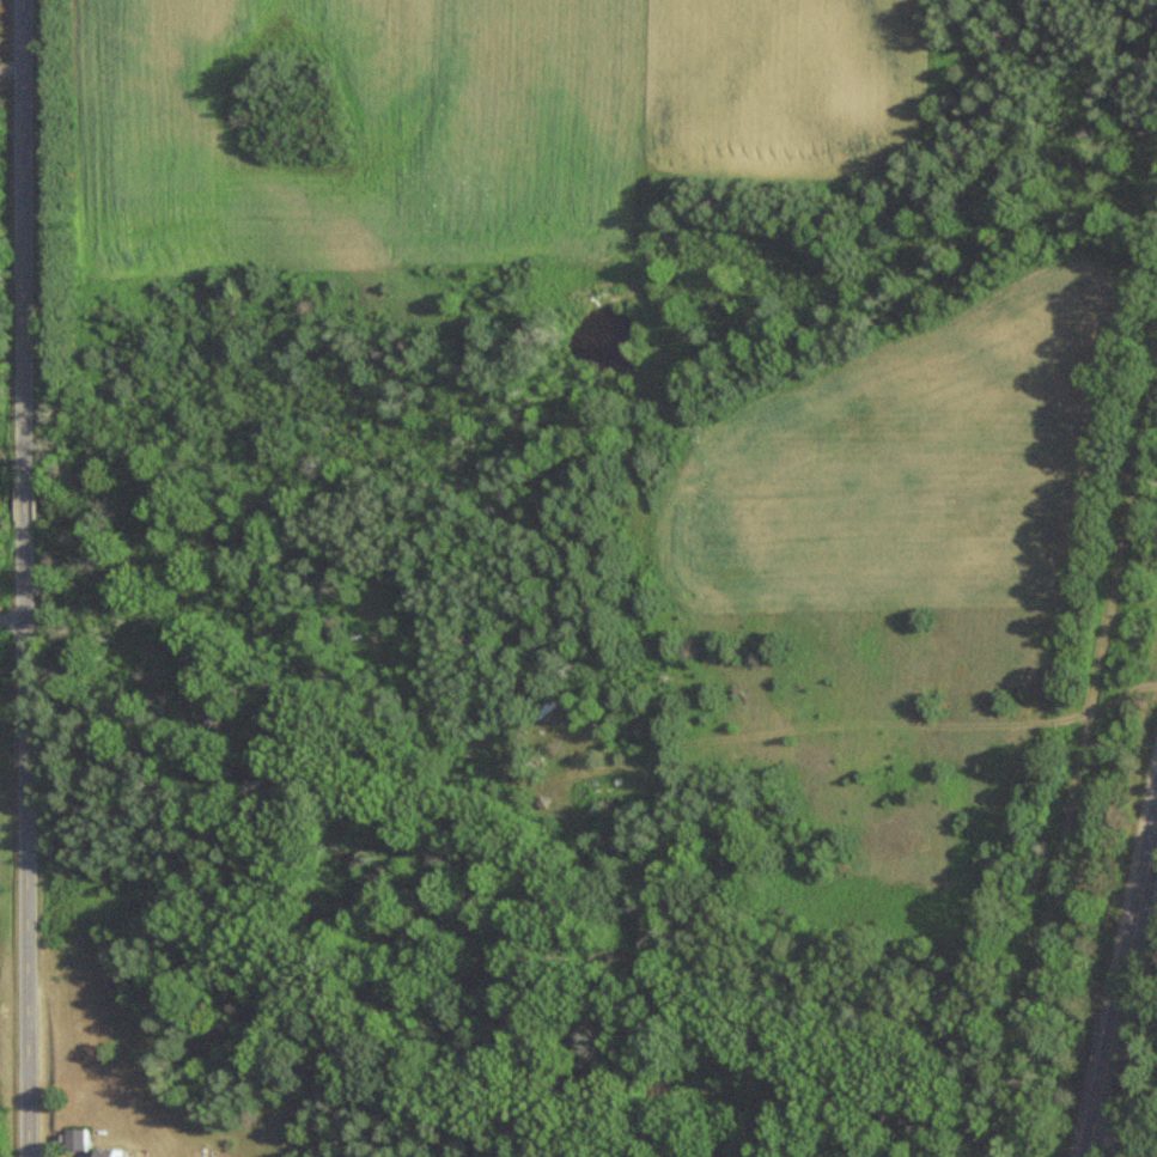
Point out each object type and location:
road: (11, 578)
road: (6, 617)
road: (1080, 761)
road: (1122, 982)
building: (83, 1140)
building: (117, 1152)

